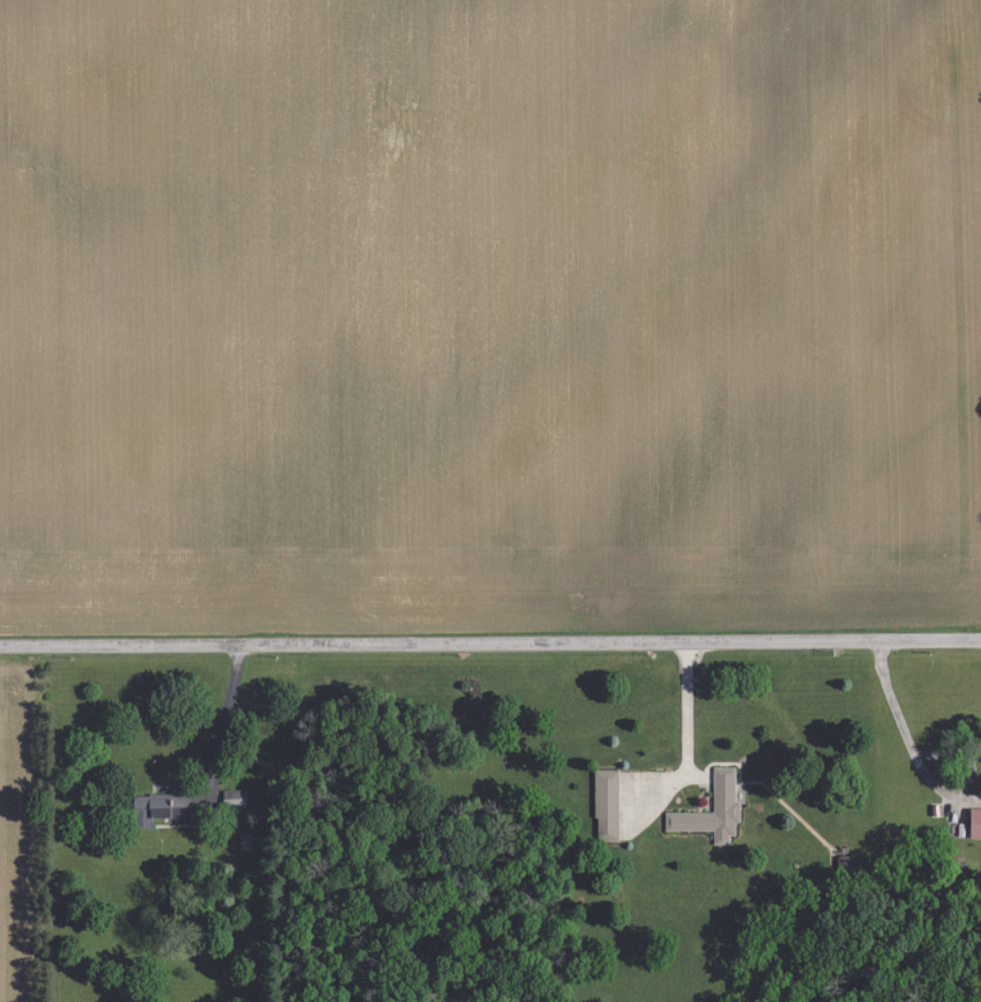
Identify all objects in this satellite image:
road: (490, 643)
road: (903, 728)
road: (688, 737)
building: (240, 798)
building: (608, 806)
building: (728, 806)
building: (161, 807)
building: (977, 823)

